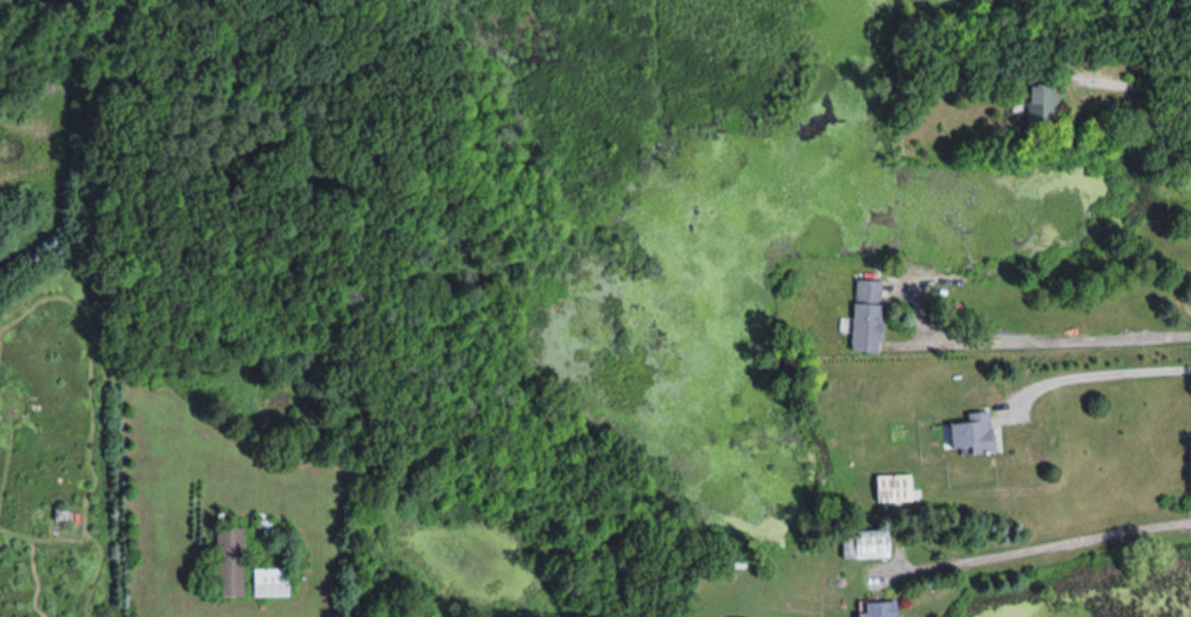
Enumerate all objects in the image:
road: (1132, 86)
building: (1042, 102)
building: (868, 314)
road: (1060, 337)
road: (1094, 375)
building: (974, 432)
building: (894, 487)
road: (1035, 548)
building: (230, 560)
building: (270, 581)
building: (881, 609)

